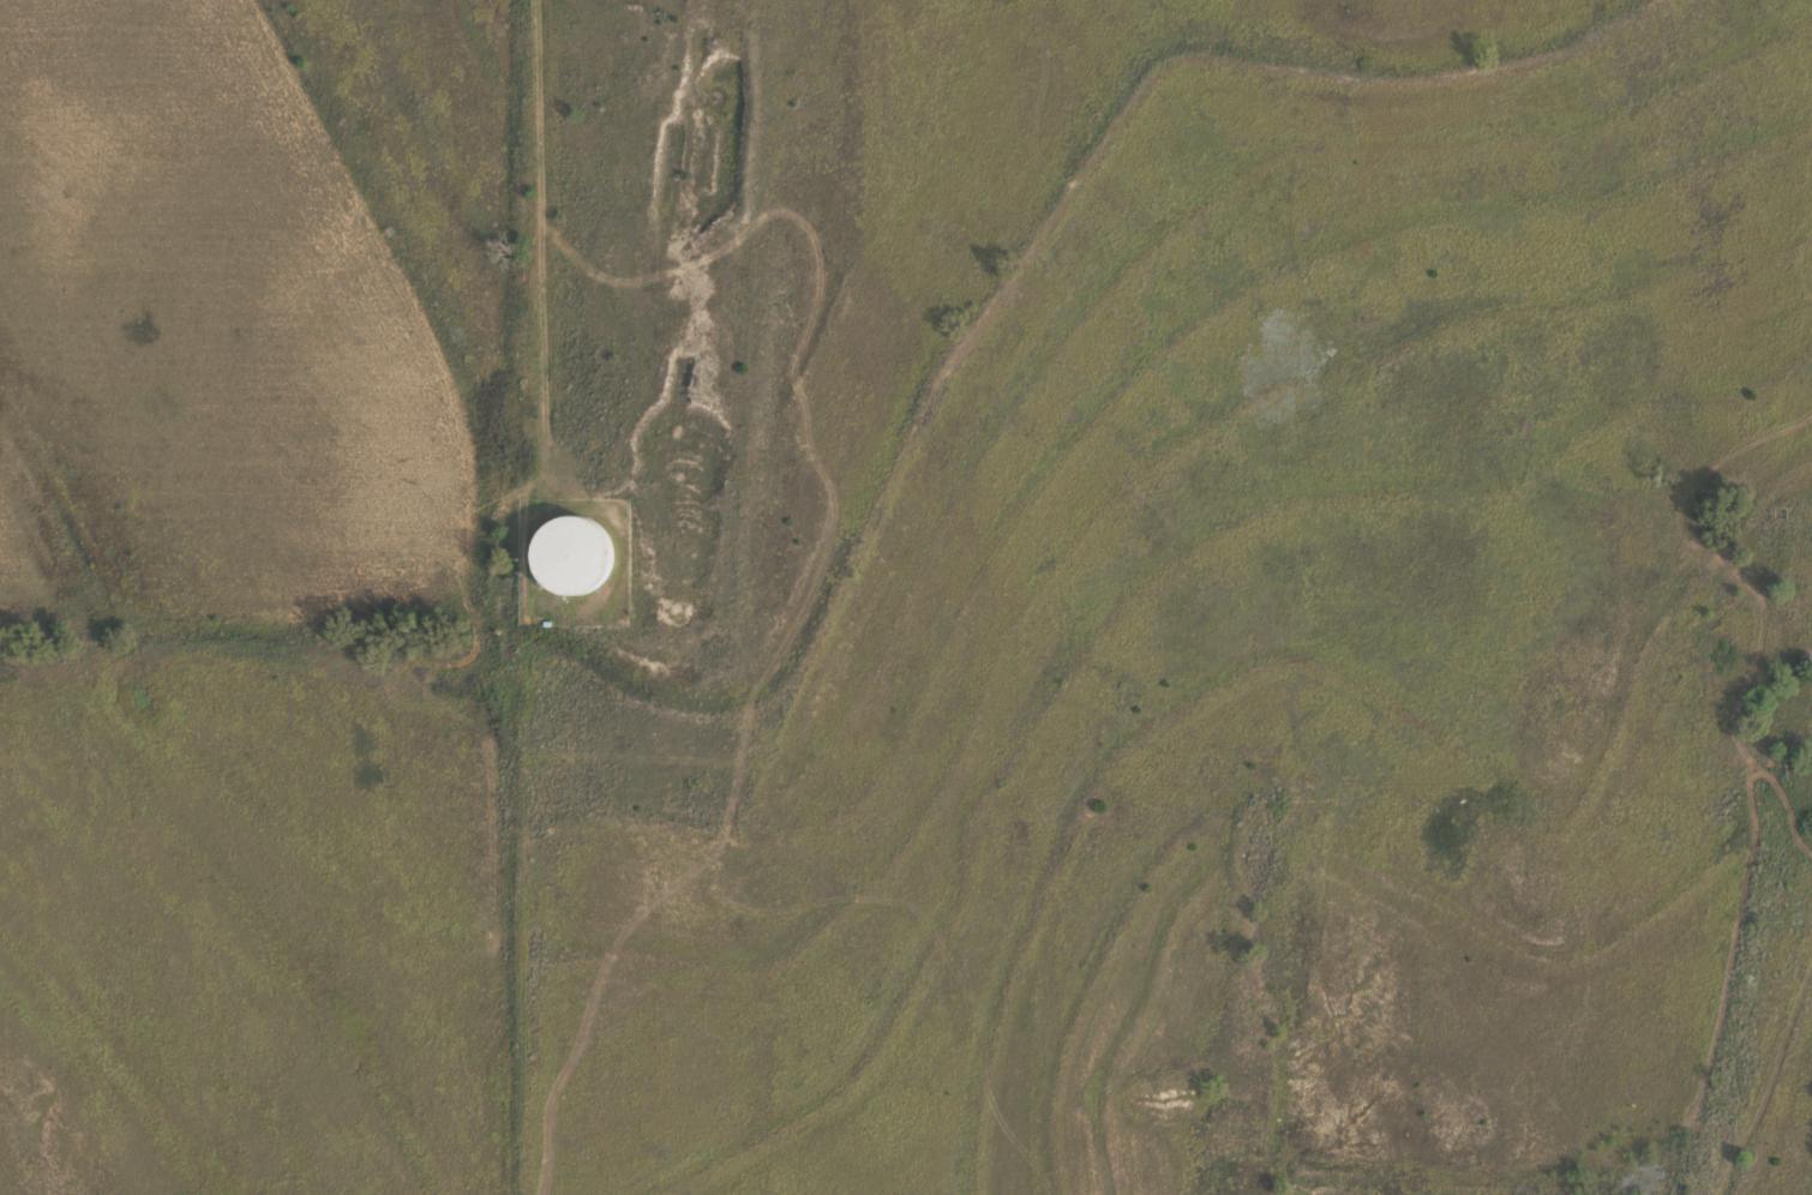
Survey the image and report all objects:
building: (575, 551)

